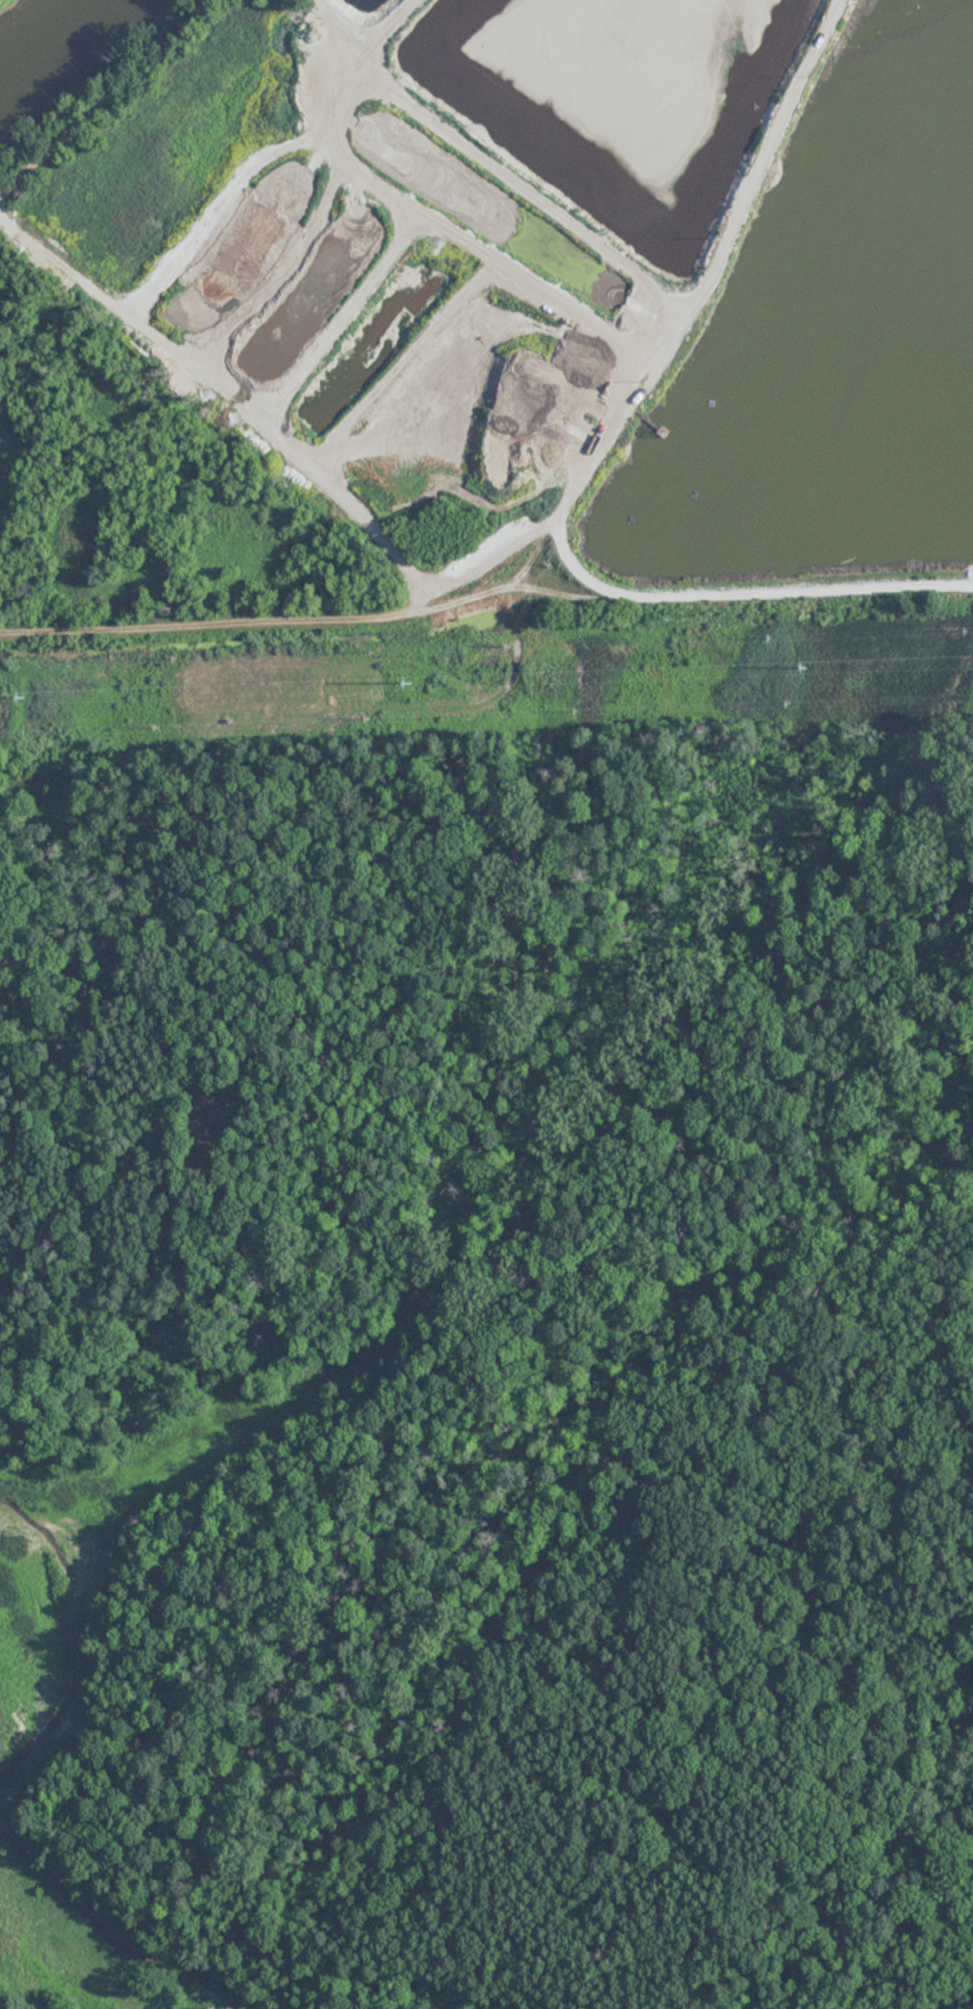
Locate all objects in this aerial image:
river: (45, 38)
power tower: (809, 666)
power tower: (412, 685)
power tower: (16, 696)

